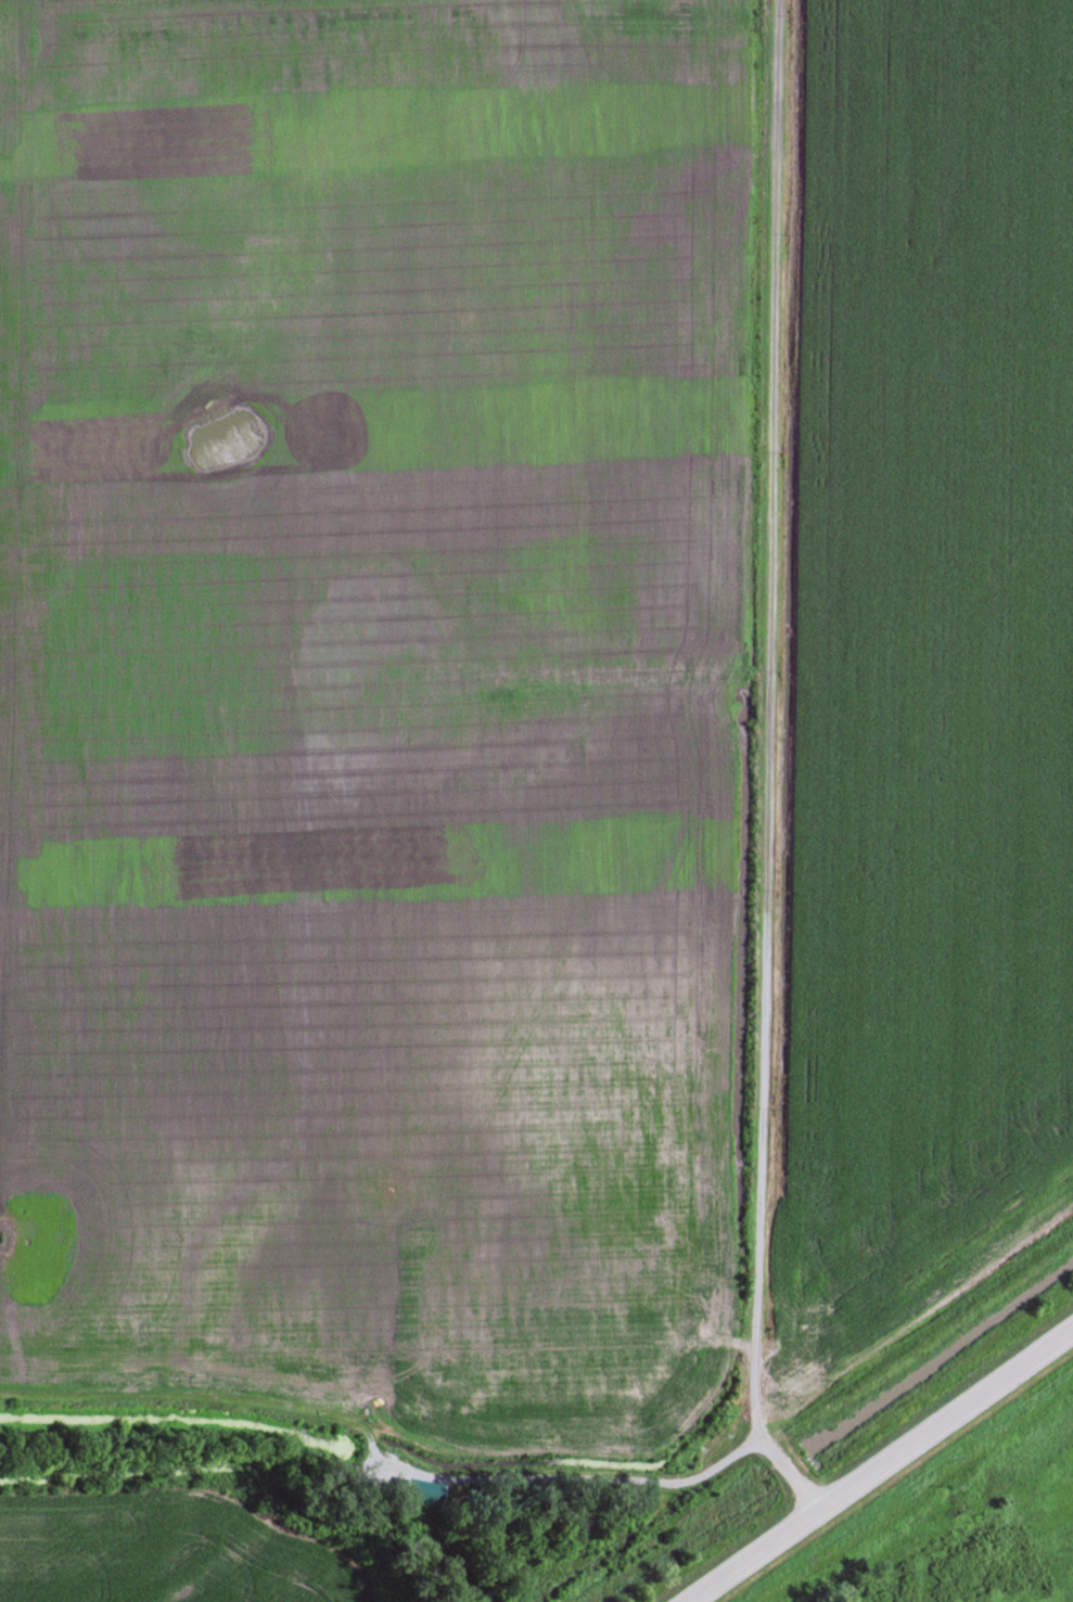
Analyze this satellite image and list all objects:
road: (765, 807)
road: (903, 1482)
building: (438, 1492)

